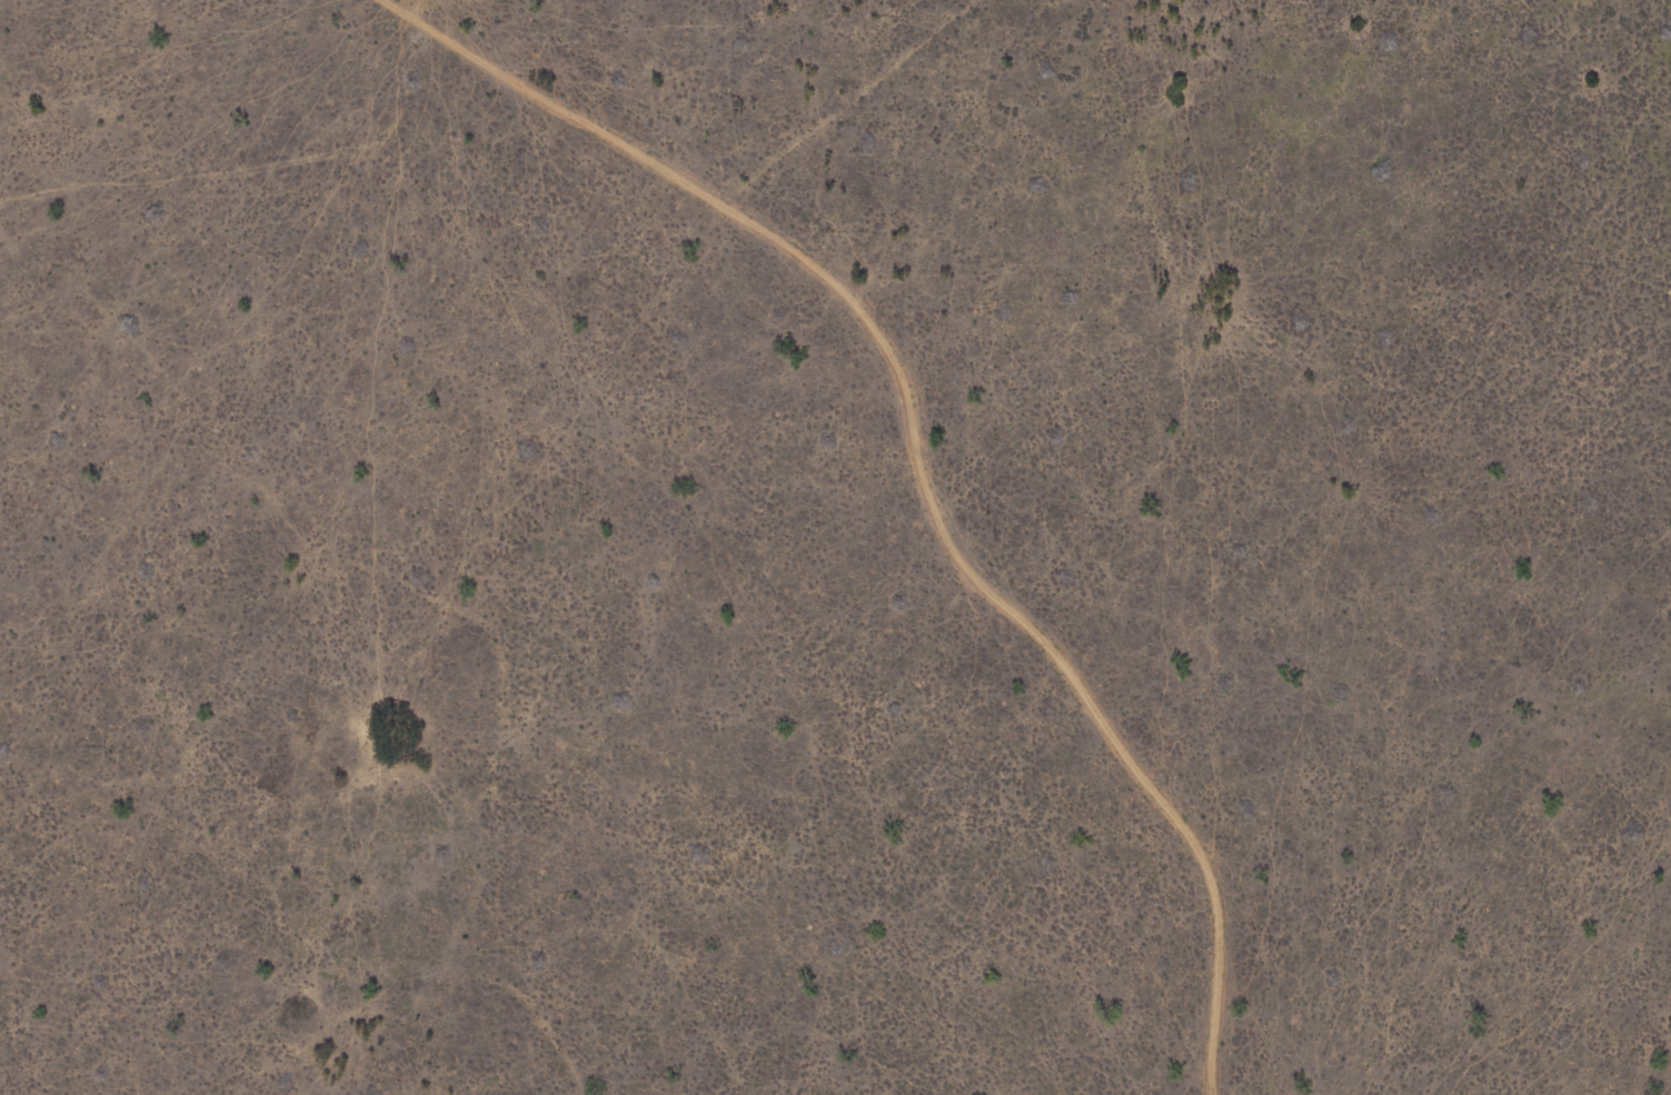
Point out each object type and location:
road: (937, 459)

